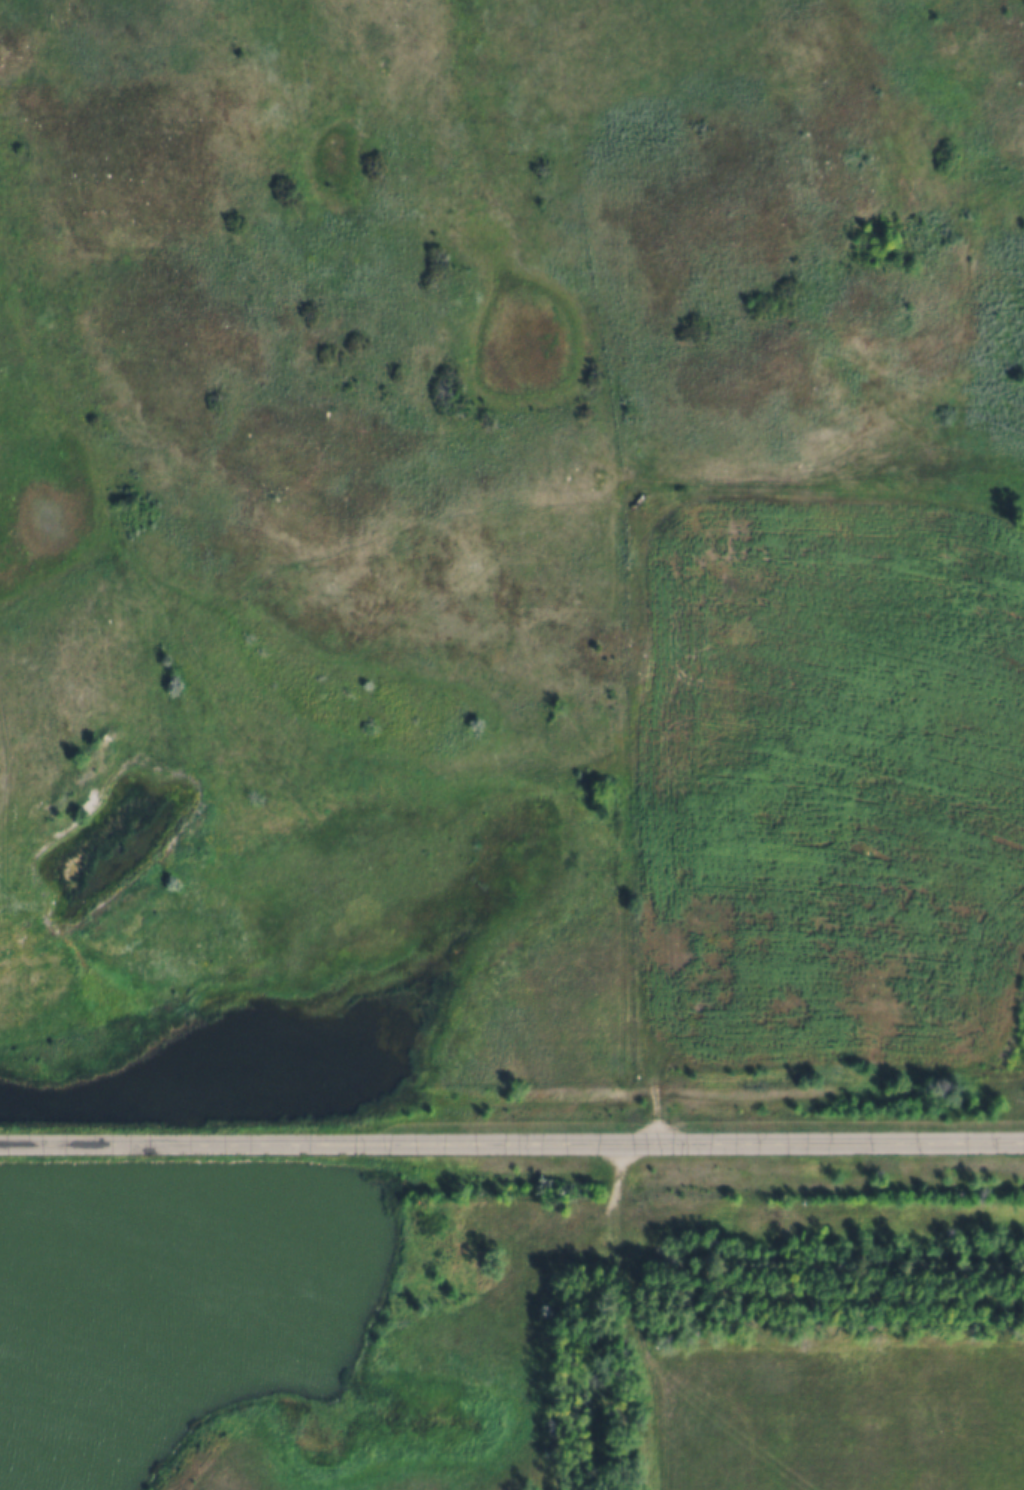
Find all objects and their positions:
road: (511, 1142)

